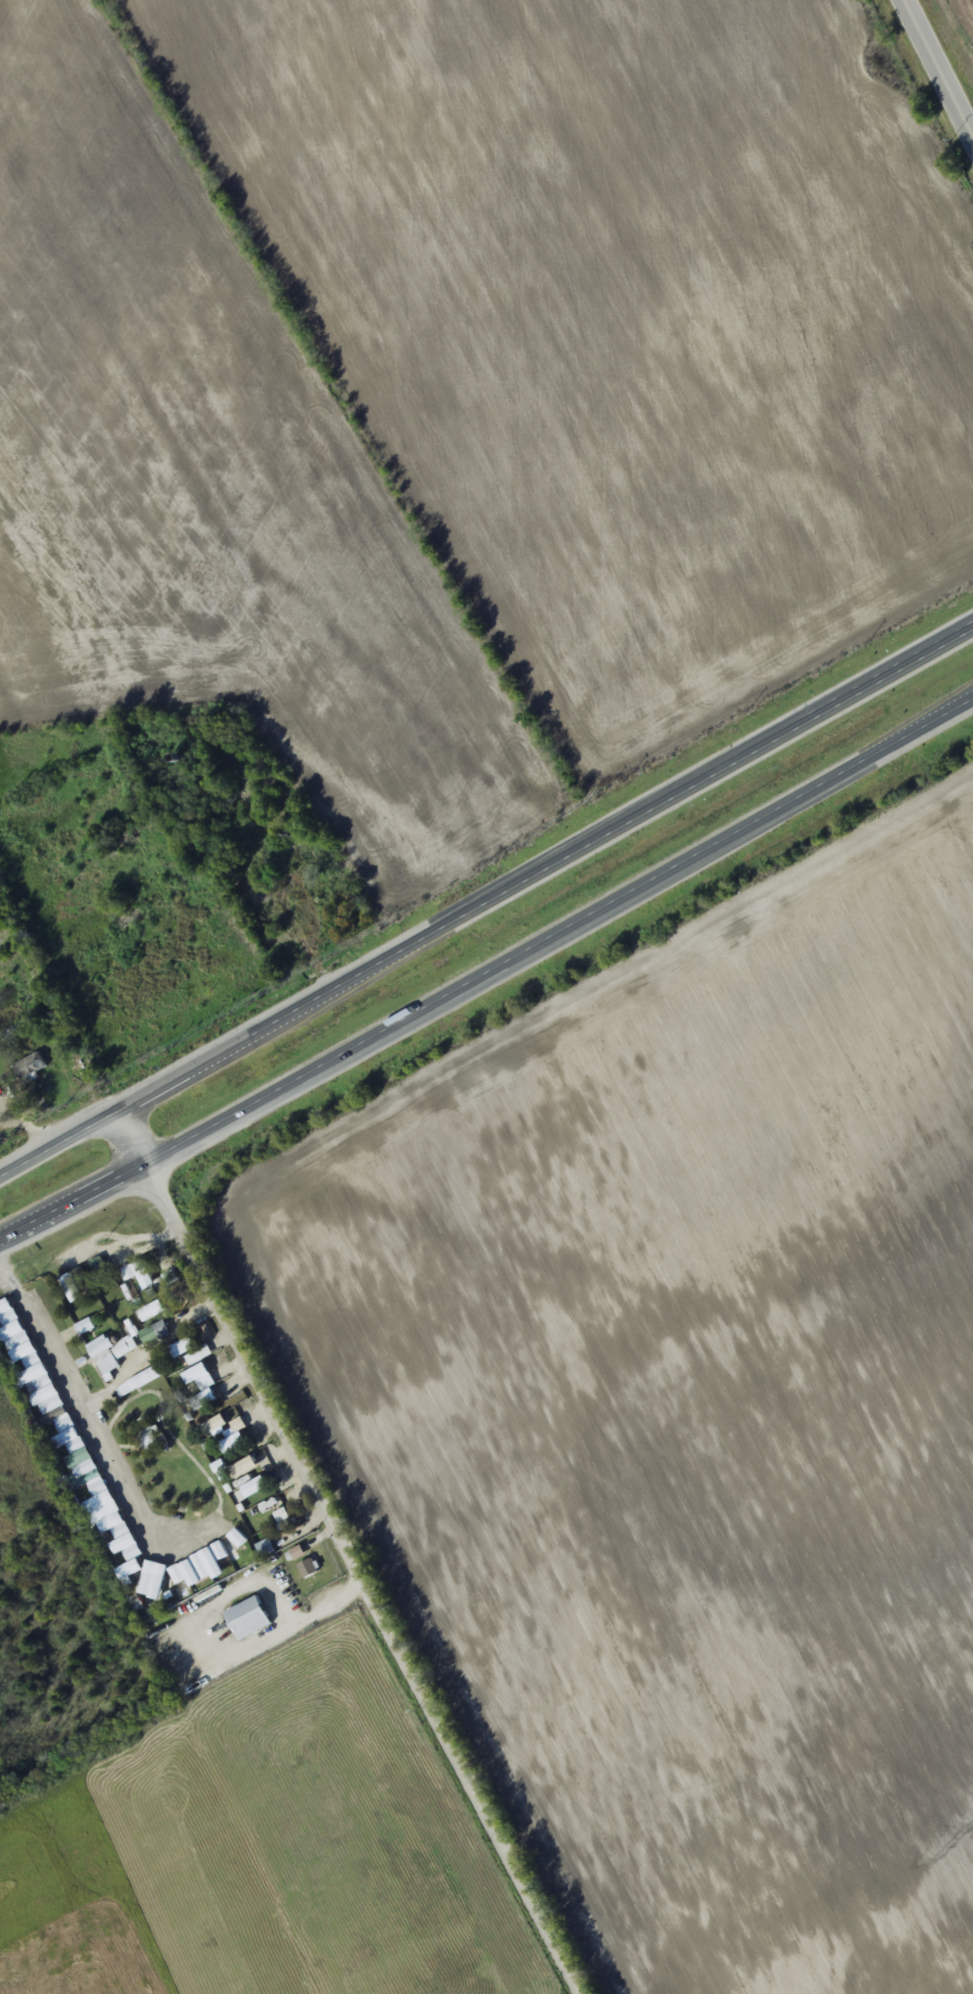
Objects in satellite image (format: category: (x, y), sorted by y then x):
road: (932, 75)
building: (327, 882)
road: (487, 898)
road: (493, 978)
building: (30, 1066)
building: (7, 1314)
building: (21, 1340)
building: (198, 1355)
building: (105, 1358)
building: (31, 1359)
building: (188, 1376)
building: (49, 1393)
building: (68, 1431)
building: (150, 1439)
building: (88, 1467)
building: (95, 1485)
building: (111, 1513)
building: (121, 1531)
building: (265, 1548)
road: (347, 1551)
building: (132, 1553)
building: (190, 1571)
building: (151, 1586)
building: (248, 1618)

